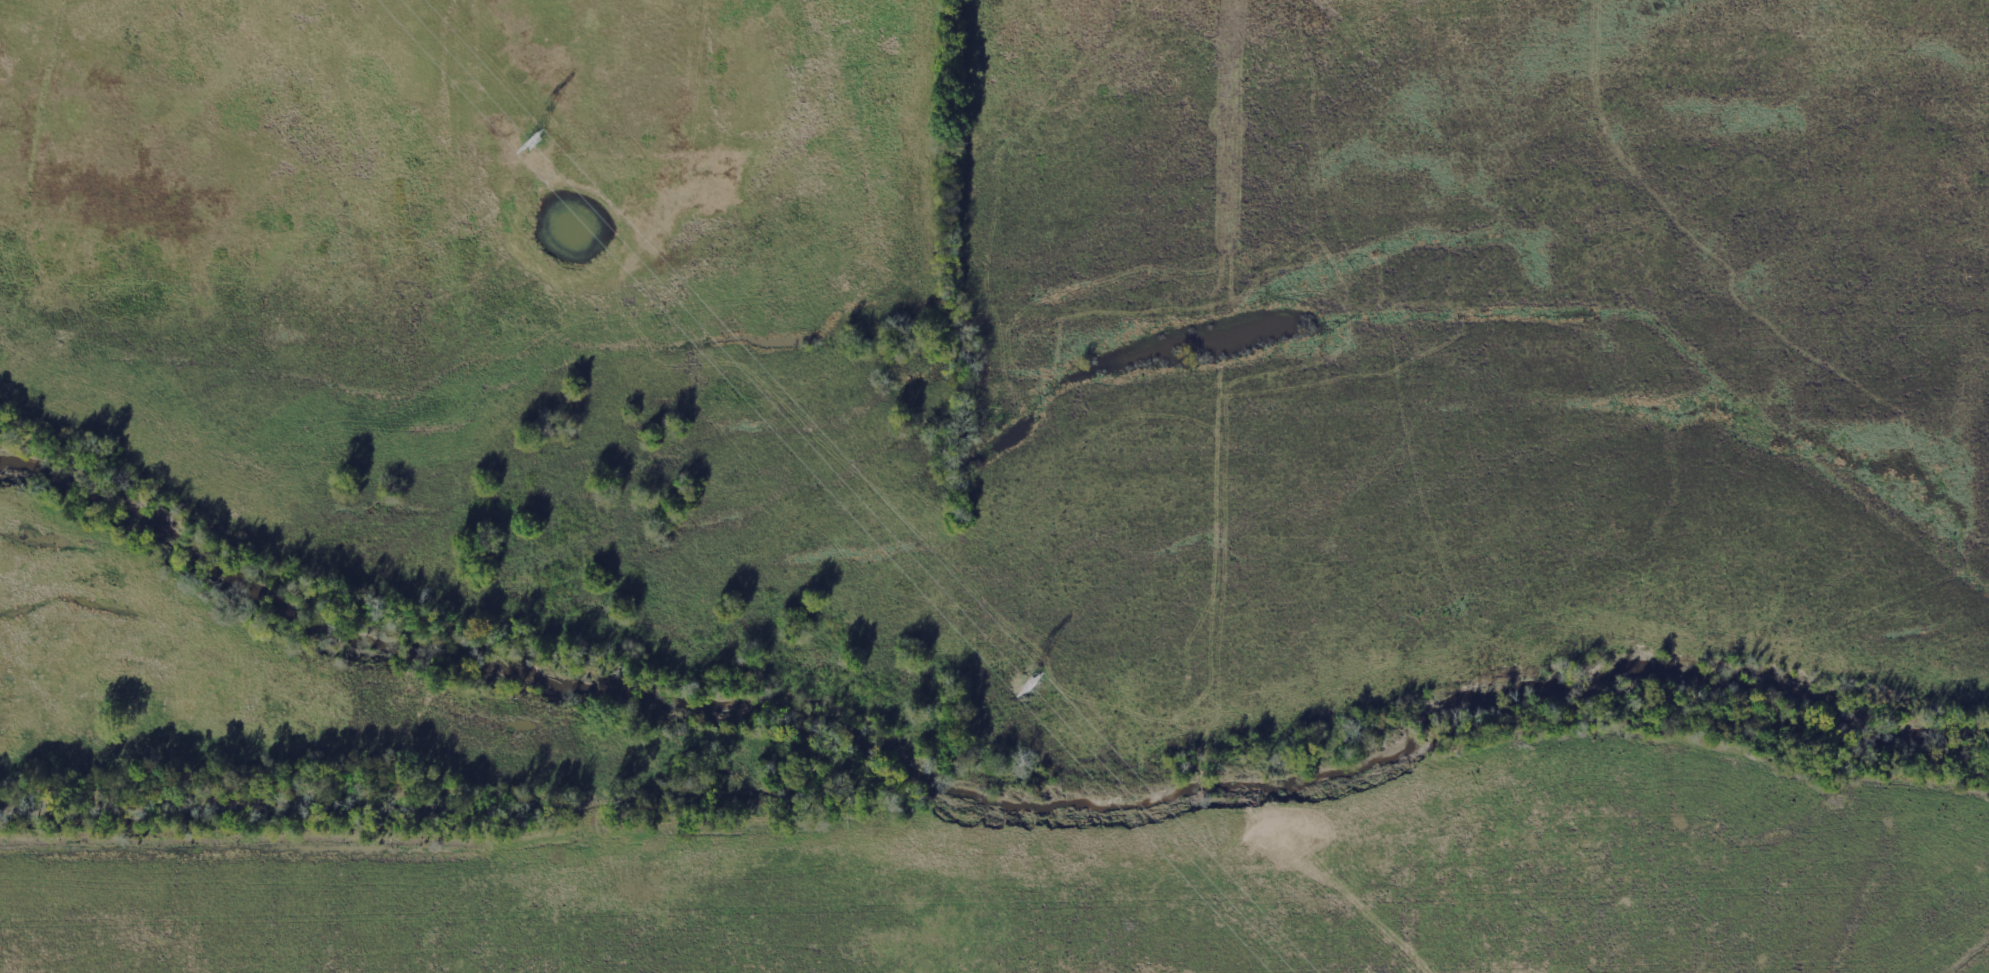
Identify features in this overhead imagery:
power tower: (537, 142)
power tower: (1028, 688)

